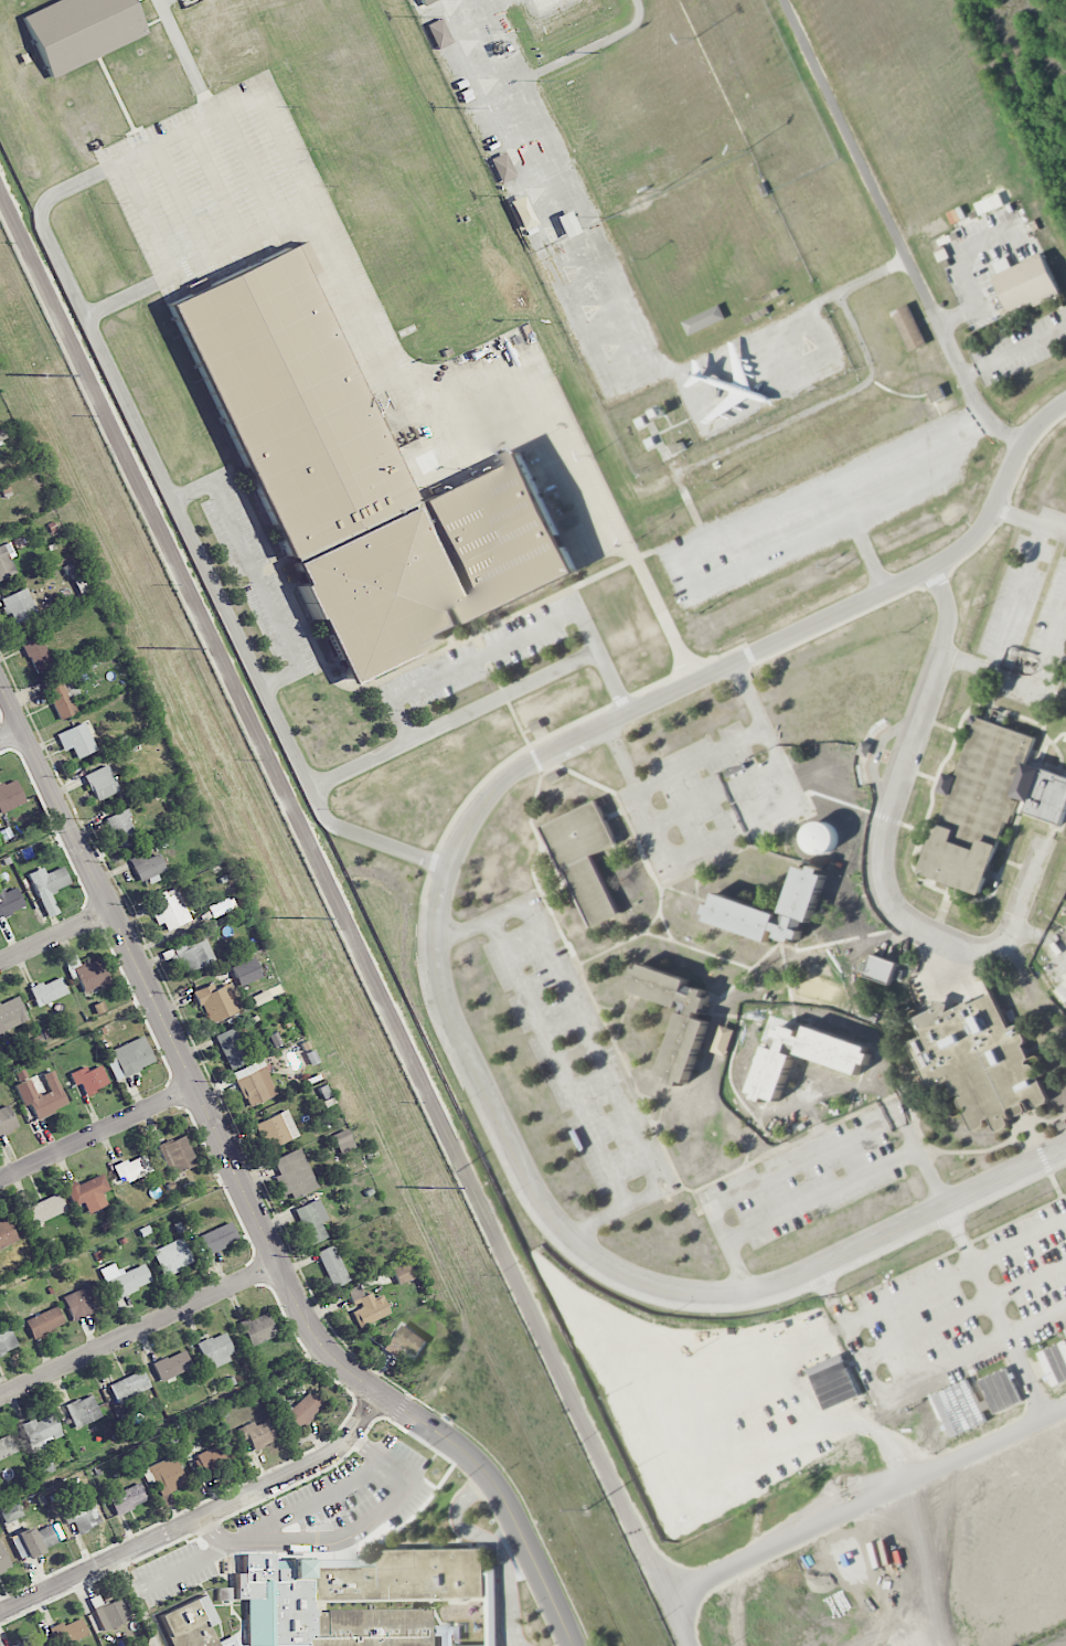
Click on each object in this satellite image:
building: (425, 1)
building: (79, 30)
building: (437, 33)
road: (287, 151)
road: (253, 168)
building: (501, 168)
road: (216, 184)
parking lot: (217, 187)
road: (183, 201)
building: (520, 212)
building: (956, 215)
road: (147, 217)
building: (566, 224)
road: (892, 230)
building: (1026, 285)
road: (120, 299)
building: (703, 320)
building: (908, 328)
road: (1012, 351)
power tower: (47, 374)
building: (936, 393)
road: (1043, 421)
building: (1, 434)
building: (359, 481)
road: (830, 485)
road: (193, 491)
road: (842, 500)
parking lot: (819, 509)
road: (1028, 521)
road: (617, 522)
road: (839, 522)
road: (192, 541)
road: (867, 554)
building: (4, 563)
road: (684, 572)
parking lot: (257, 575)
road: (257, 575)
road: (1020, 592)
parking lot: (1032, 601)
building: (19, 606)
road: (1053, 638)
power tower: (177, 647)
building: (36, 655)
parking lot: (483, 655)
road: (484, 656)
road: (601, 662)
road: (987, 671)
road: (283, 677)
road: (386, 678)
building: (61, 693)
road: (740, 698)
road: (508, 703)
road: (452, 719)
road: (402, 720)
road: (12, 734)
building: (76, 740)
road: (921, 774)
building: (100, 783)
building: (10, 795)
building: (988, 804)
road: (889, 805)
road: (862, 808)
road: (628, 824)
building: (122, 829)
road: (919, 836)
road: (747, 846)
building: (585, 859)
building: (146, 867)
road: (555, 868)
road: (392, 884)
building: (47, 886)
road: (556, 891)
building: (9, 901)
building: (731, 904)
building: (218, 907)
building: (169, 909)
power tower: (306, 917)
road: (479, 921)
road: (611, 933)
road: (56, 935)
road: (1058, 948)
building: (195, 954)
building: (881, 969)
road: (436, 970)
building: (246, 971)
building: (88, 973)
building: (47, 990)
building: (1060, 990)
building: (260, 997)
building: (210, 1002)
building: (11, 1013)
road: (599, 1015)
road: (76, 1030)
building: (274, 1039)
building: (723, 1040)
road: (594, 1044)
building: (231, 1048)
building: (683, 1048)
parking lot: (574, 1053)
building: (128, 1058)
building: (978, 1060)
road: (556, 1062)
building: (843, 1063)
building: (89, 1079)
building: (254, 1083)
building: (42, 1095)
building: (7, 1121)
building: (1060, 1125)
building: (276, 1129)
road: (98, 1132)
building: (343, 1140)
building: (175, 1155)
building: (132, 1168)
building: (294, 1174)
power tower: (433, 1187)
building: (87, 1192)
road: (827, 1192)
road: (246, 1193)
building: (45, 1209)
road: (614, 1211)
building: (311, 1220)
building: (7, 1232)
building: (217, 1238)
building: (171, 1256)
building: (332, 1266)
road: (976, 1271)
building: (402, 1273)
road: (955, 1273)
building: (124, 1279)
building: (83, 1300)
building: (367, 1308)
parking lot: (958, 1310)
road: (963, 1313)
building: (43, 1321)
building: (258, 1328)
road: (139, 1330)
building: (7, 1340)
building: (405, 1341)
building: (215, 1349)
building: (171, 1366)
road: (908, 1382)
building: (128, 1385)
road: (855, 1402)
building: (303, 1409)
building: (82, 1411)
building: (860, 1419)
building: (41, 1432)
building: (256, 1434)
building: (7, 1446)
building: (214, 1456)
building: (163, 1476)
building: (127, 1497)
power tower: (586, 1509)
building: (82, 1518)
road: (201, 1518)
road: (349, 1535)
building: (34, 1540)
road: (497, 1546)
building: (3, 1560)
road: (183, 1567)
road: (126, 1576)
building: (365, 1601)
building: (109, 1613)
building: (192, 1625)
building: (70, 1631)
building: (29, 1642)

